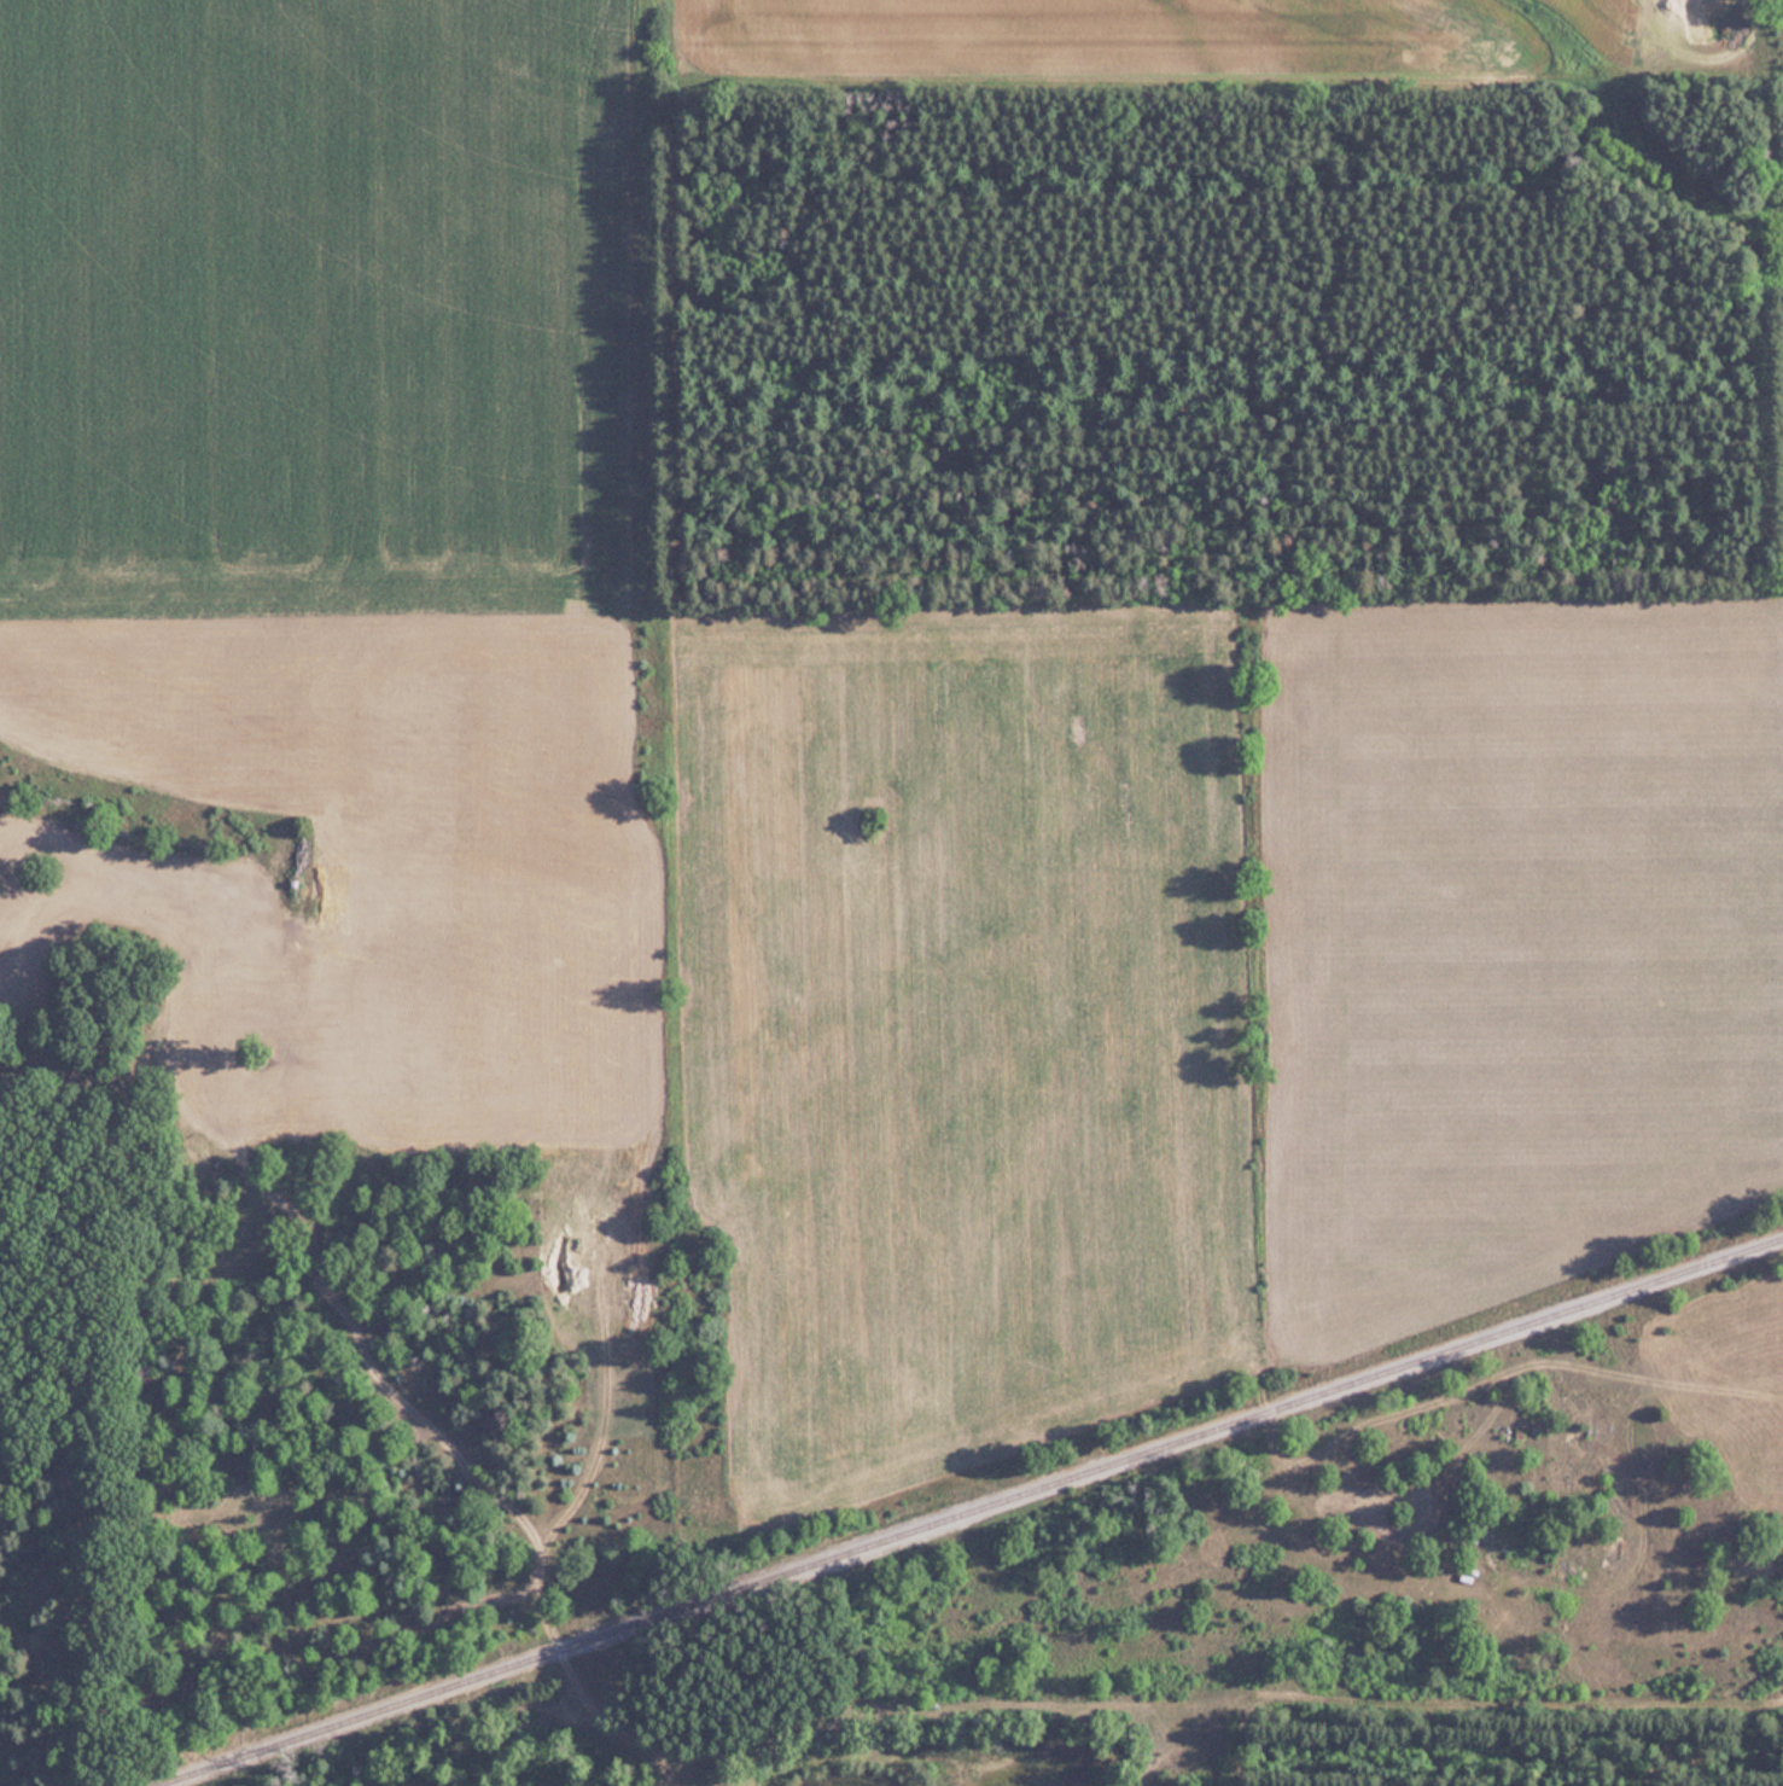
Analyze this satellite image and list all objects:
railway: (984, 1516)
road: (1503, 1708)

